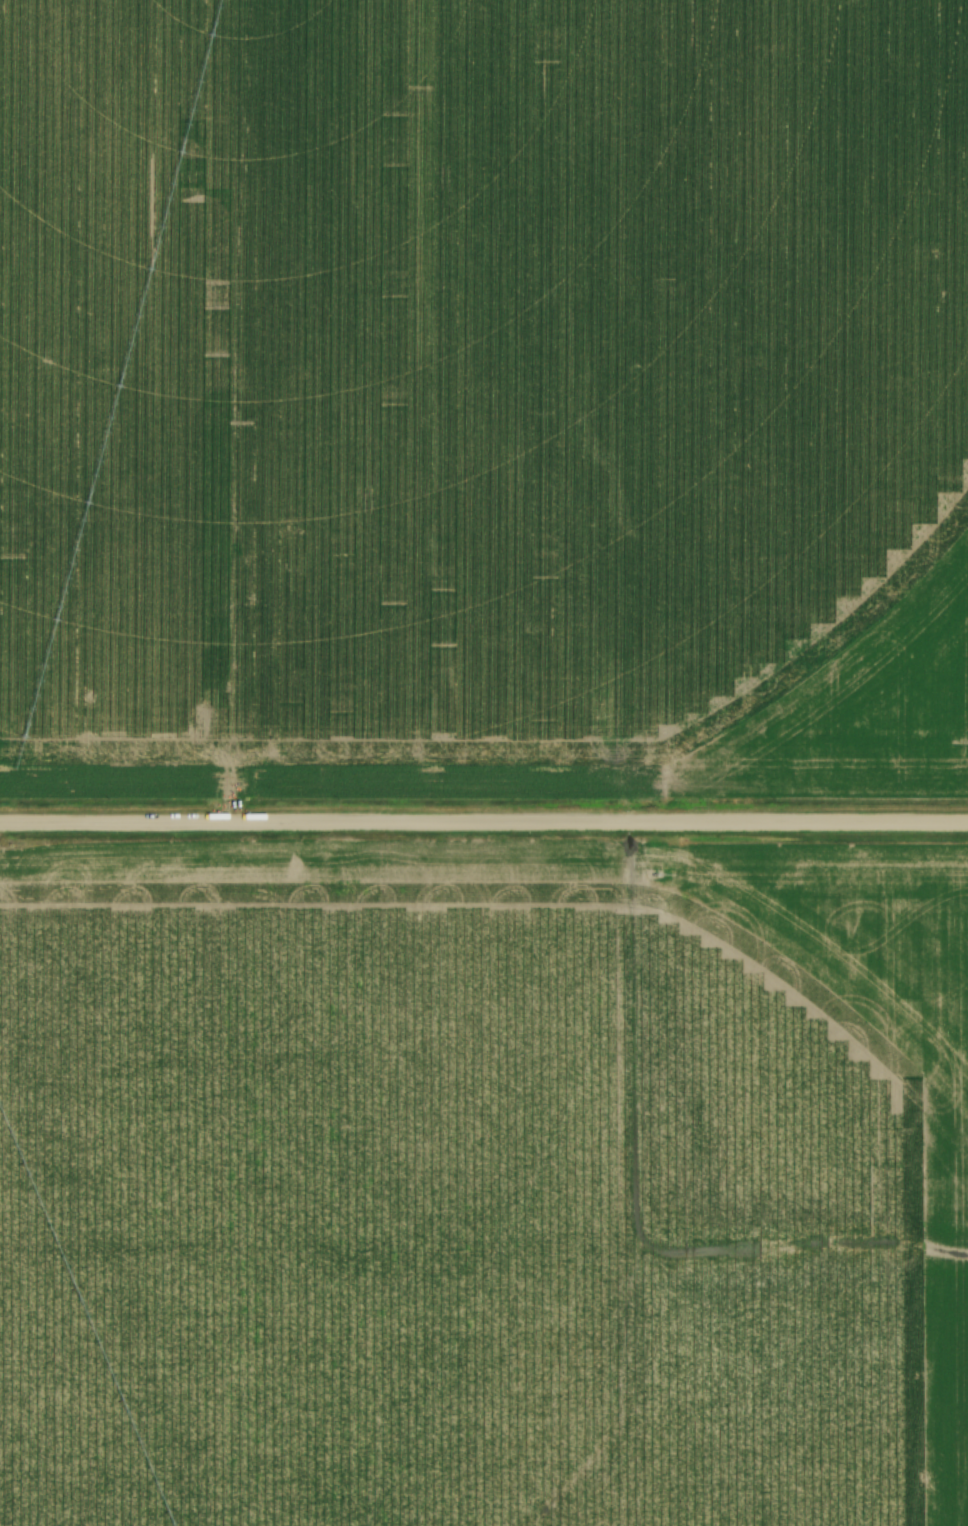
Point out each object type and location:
road: (483, 827)

